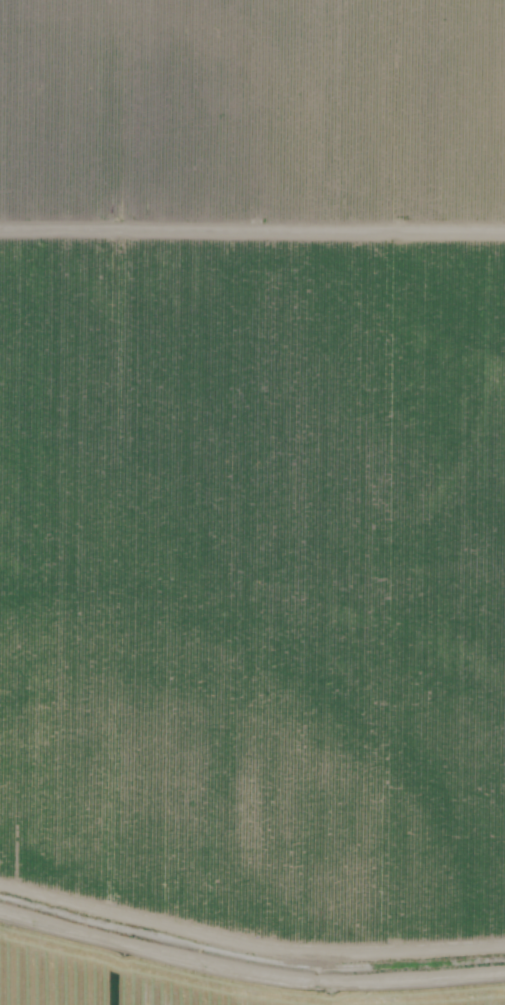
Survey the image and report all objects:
crop: (251, 113)
road: (252, 208)
crop: (252, 616)

